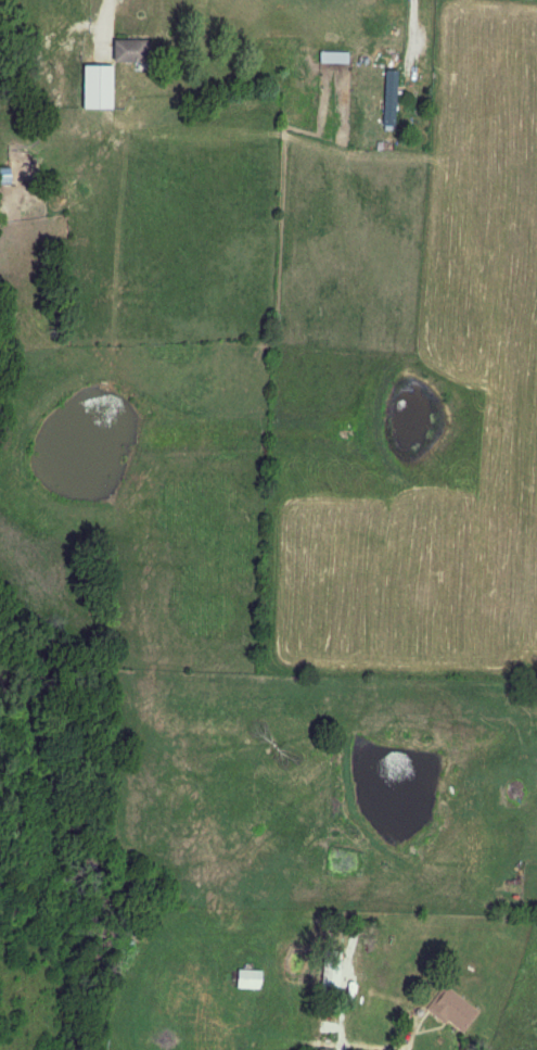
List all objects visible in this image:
building: (131, 51)
building: (334, 58)
building: (100, 88)
building: (388, 98)
building: (5, 178)
building: (332, 973)
building: (250, 981)
building: (451, 1010)
road: (404, 1035)

